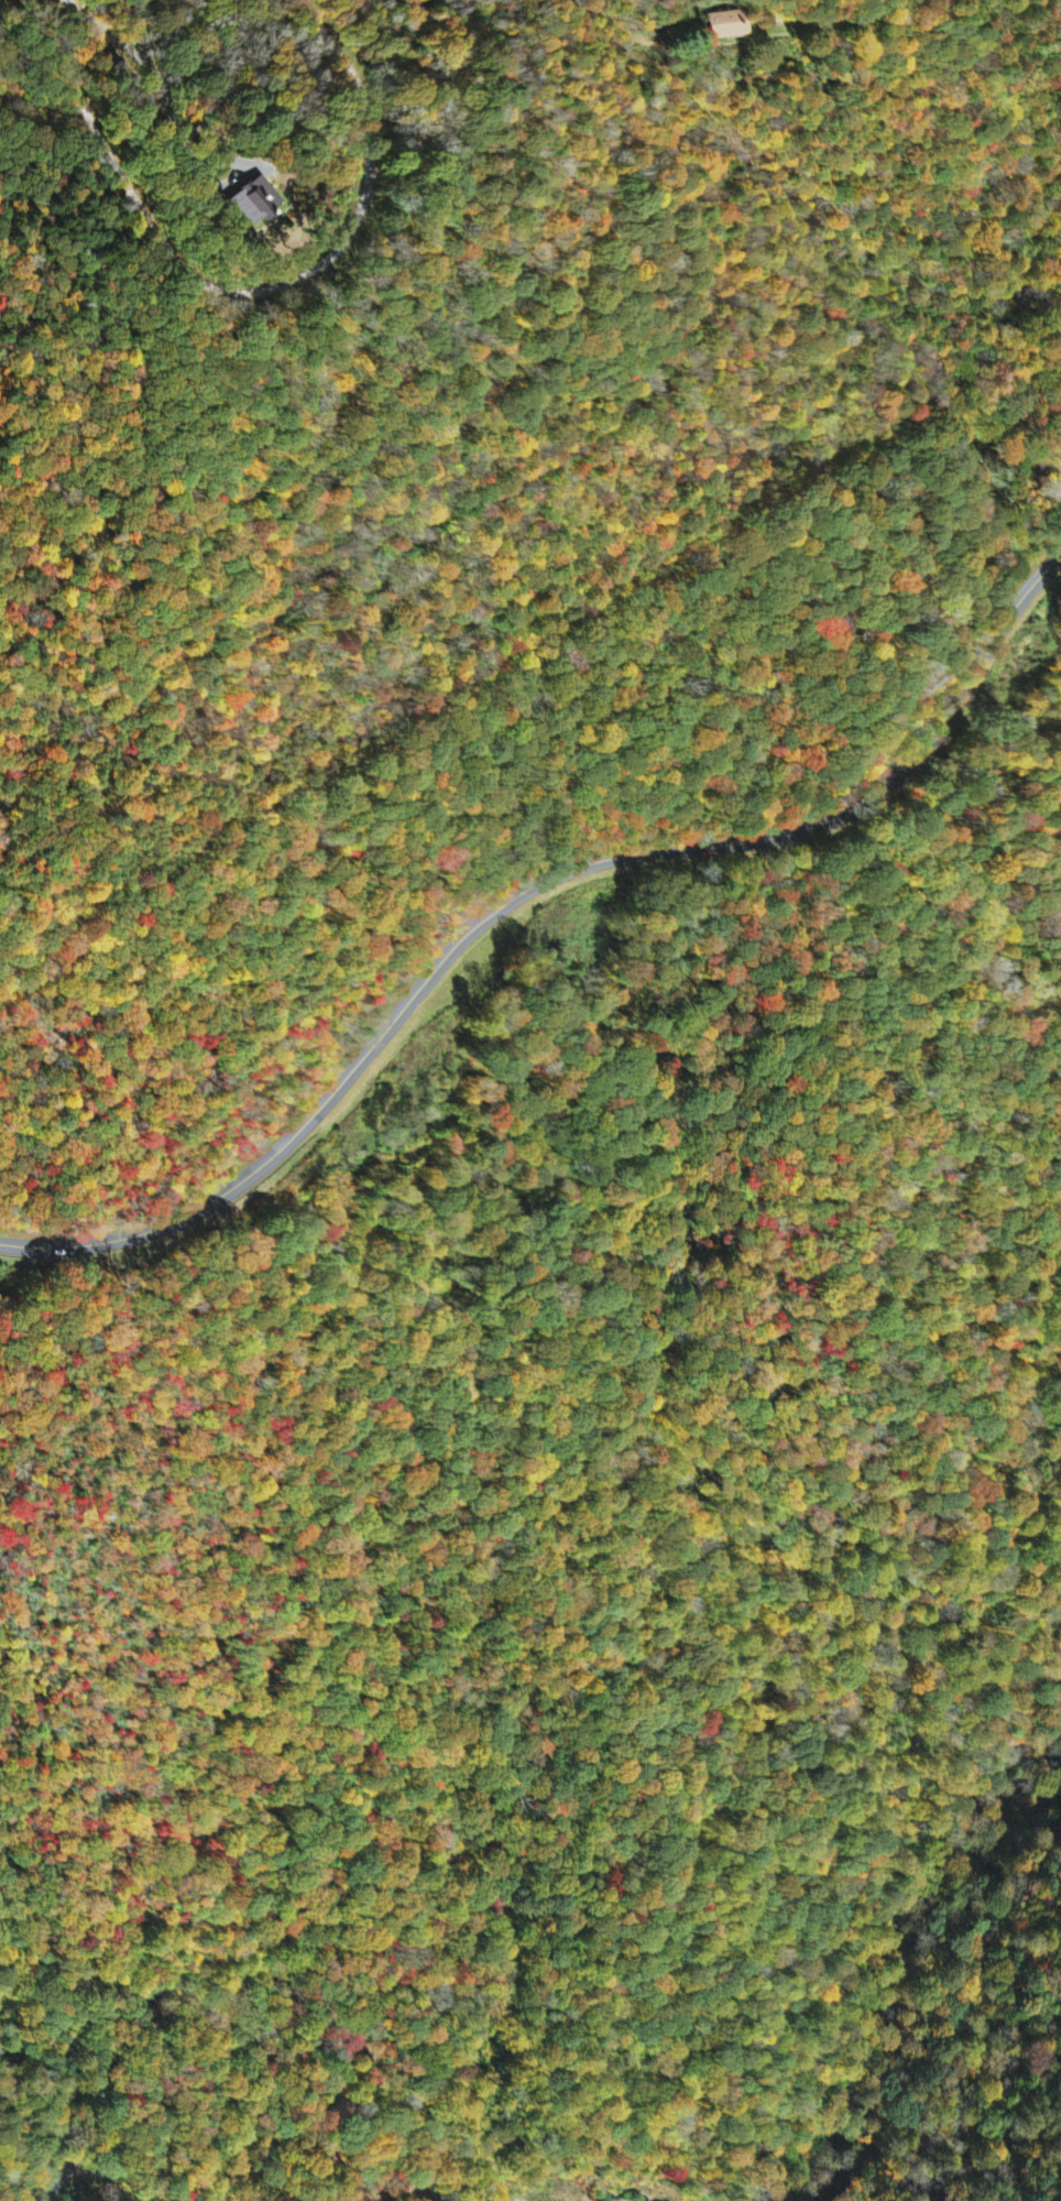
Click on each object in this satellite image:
building: (728, 26)
road: (48, 109)
road: (253, 291)
road: (560, 740)
road: (528, 890)

